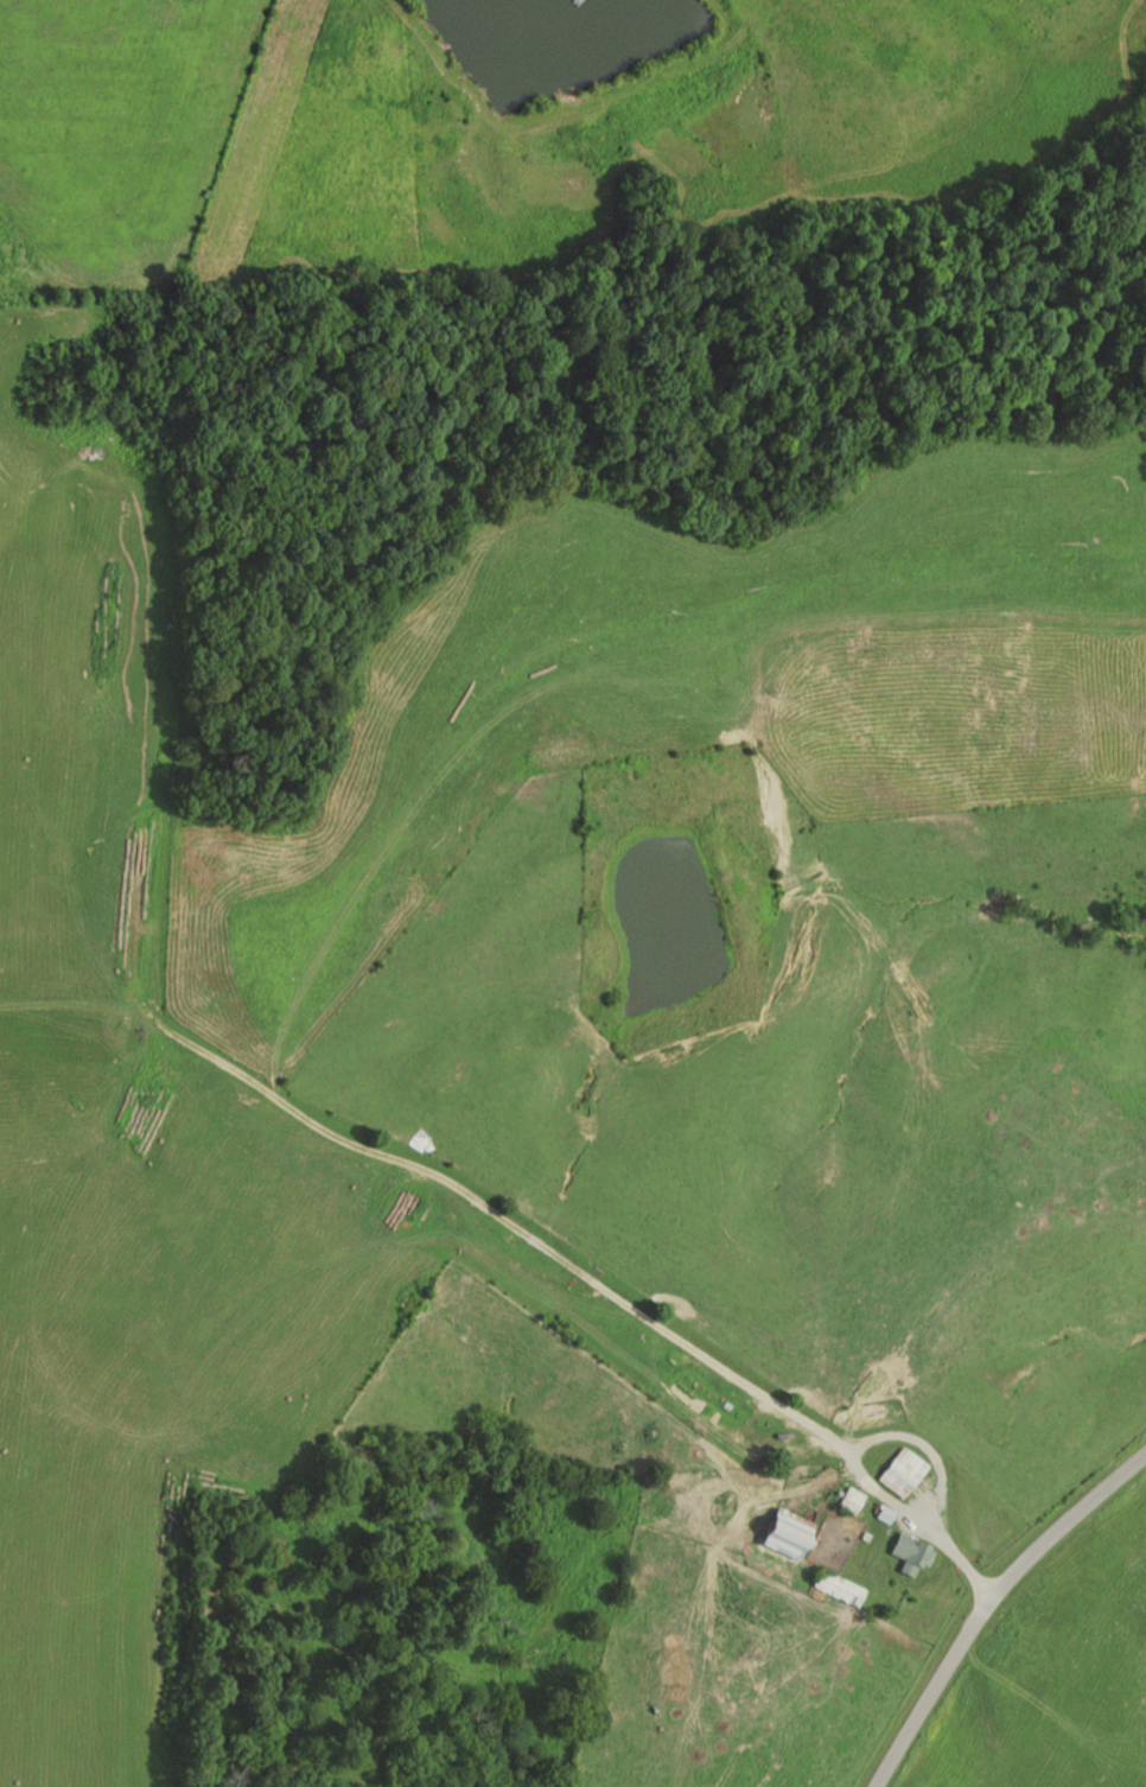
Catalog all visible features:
road: (917, 1442)
building: (902, 1471)
building: (851, 1500)
building: (788, 1534)
building: (910, 1551)
building: (839, 1586)
road: (997, 1601)
road: (1089, 1602)

